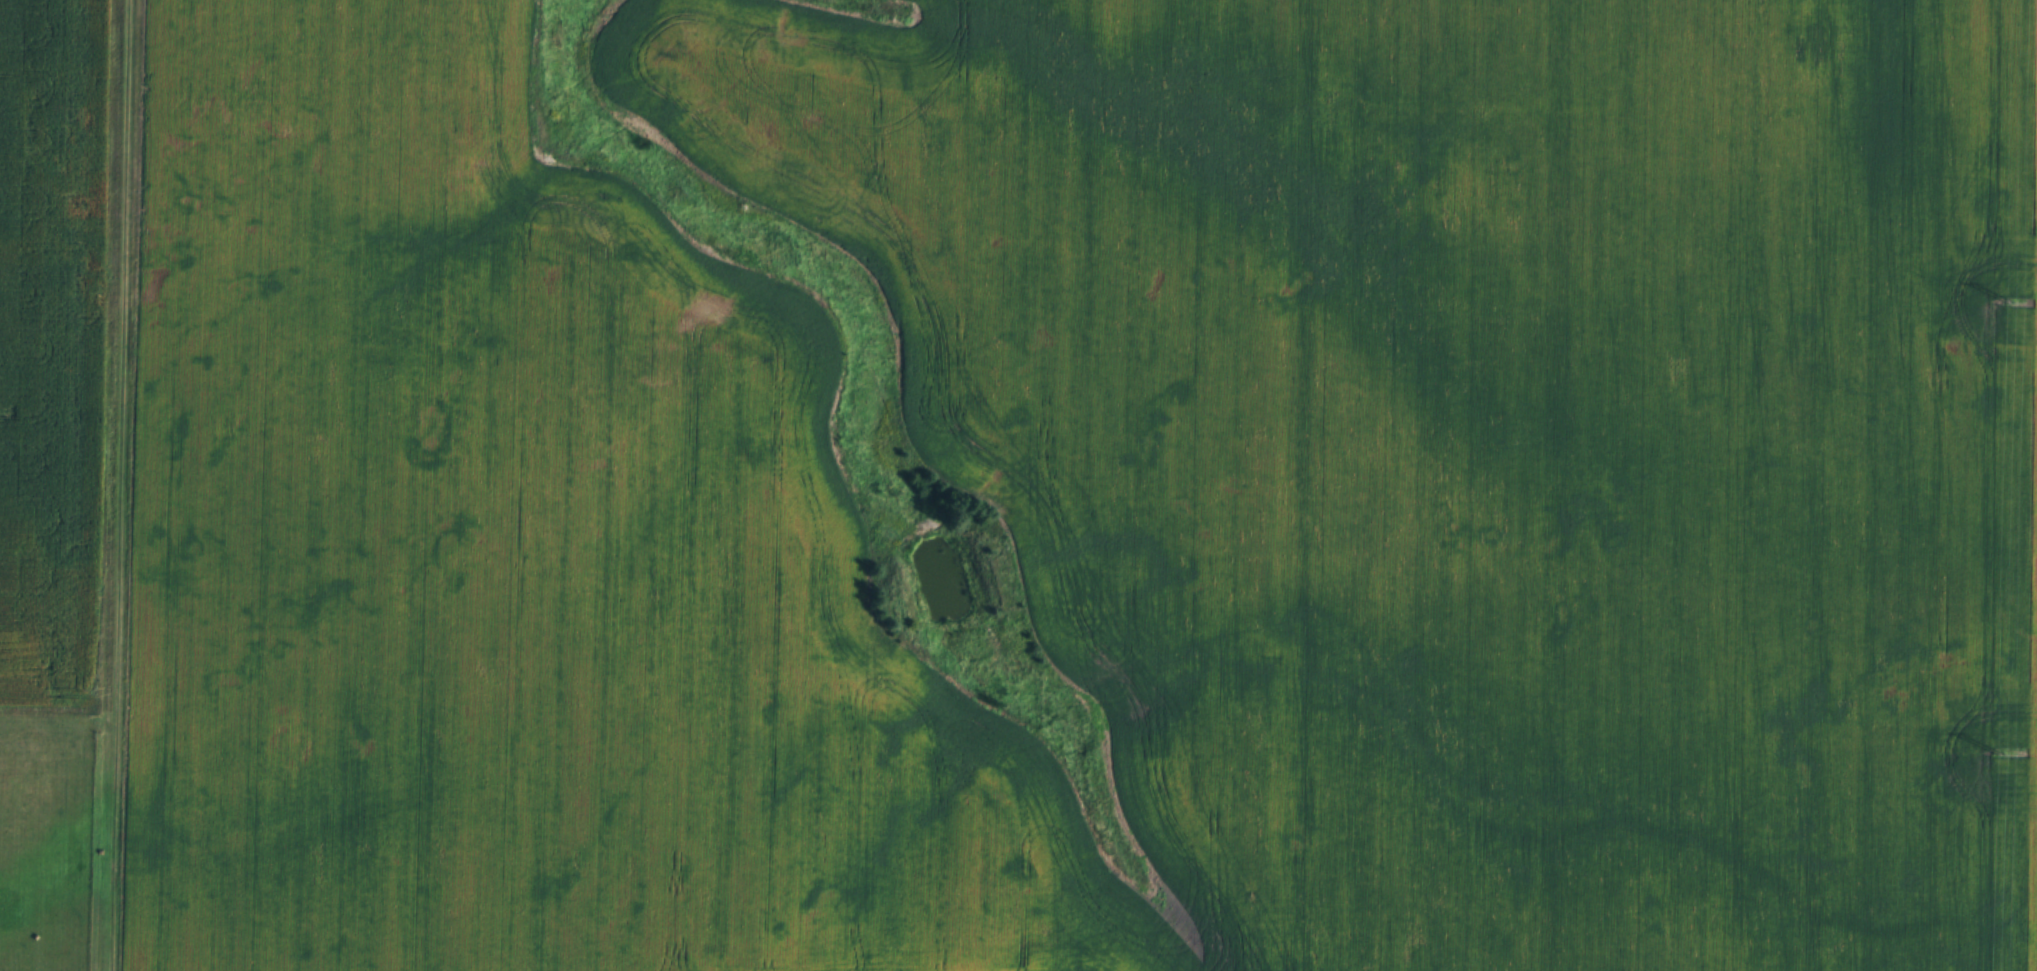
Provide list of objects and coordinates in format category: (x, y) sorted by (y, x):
power tower: (2007, 304)
power tower: (1997, 755)

